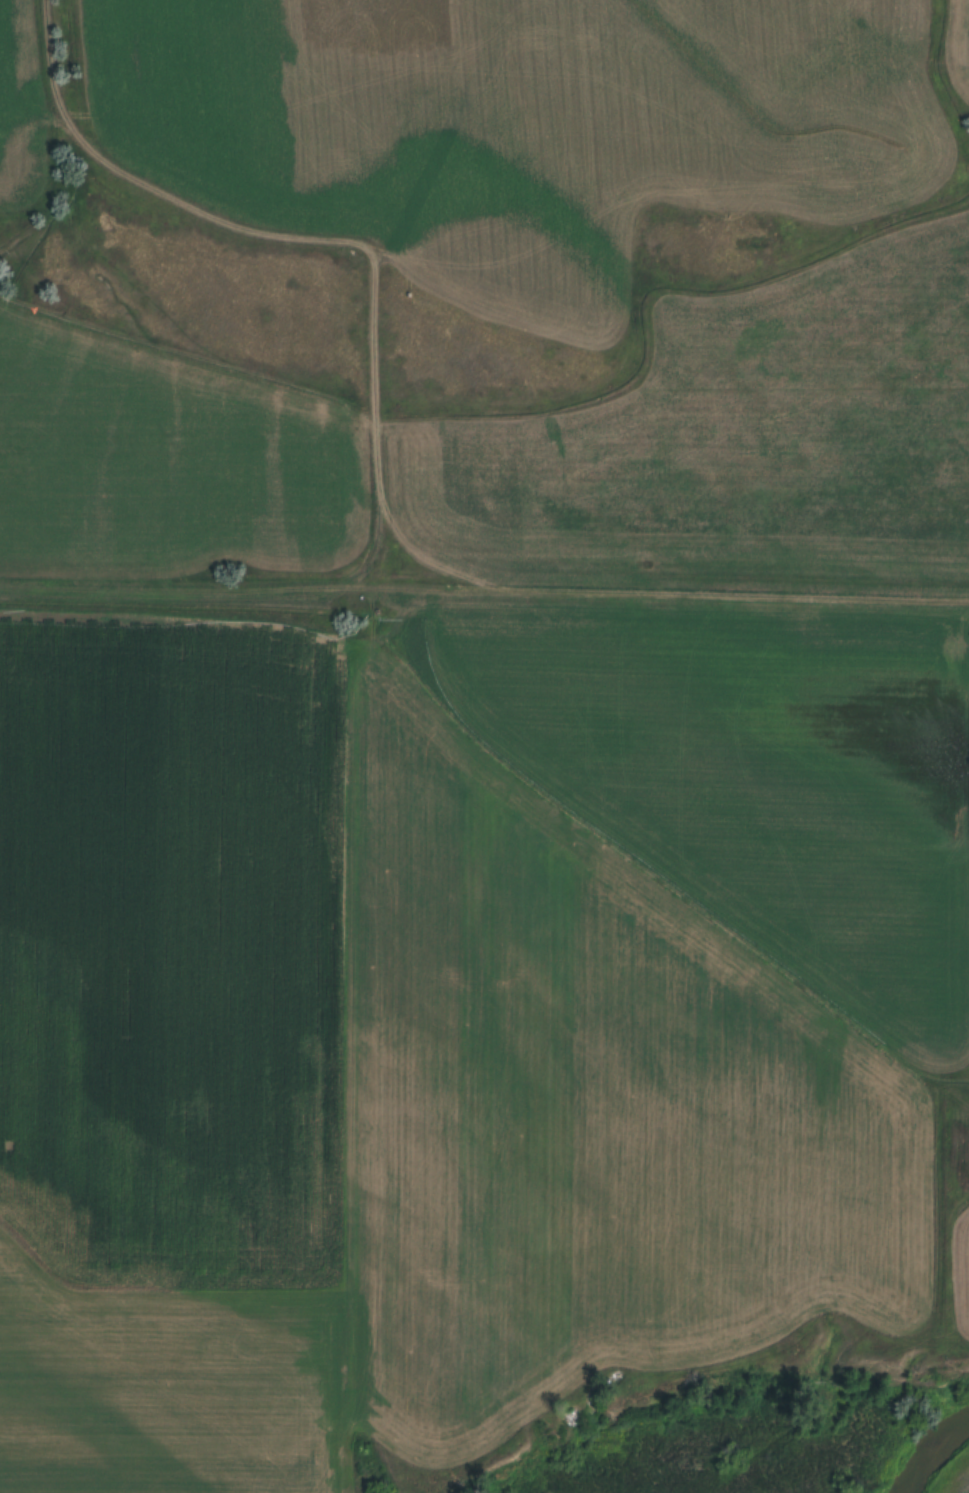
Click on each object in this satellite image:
river: (939, 1458)

